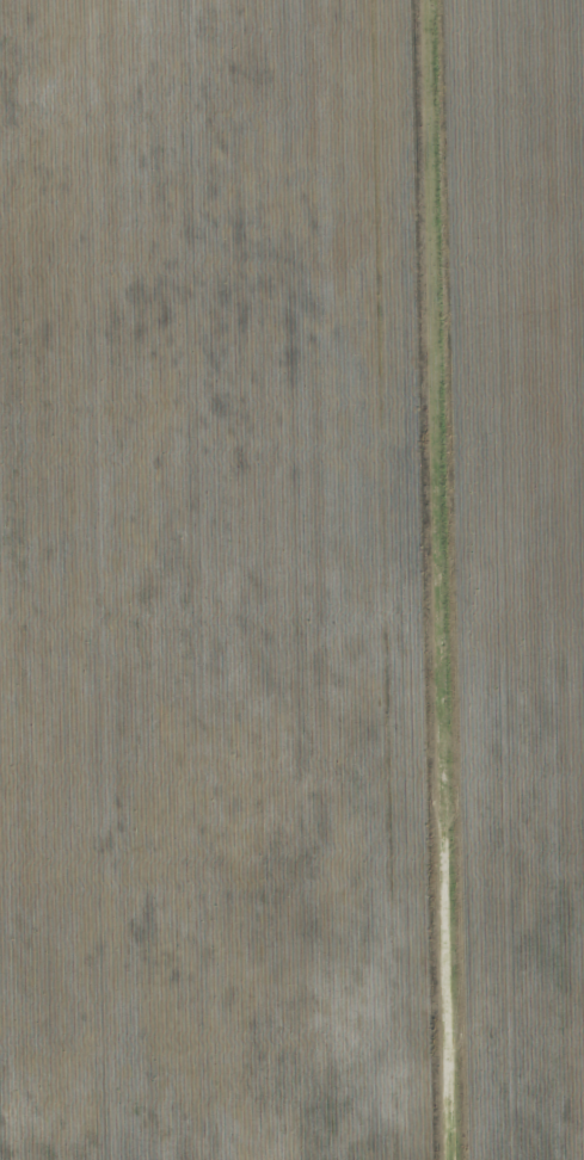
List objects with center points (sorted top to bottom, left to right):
road: (447, 579)

